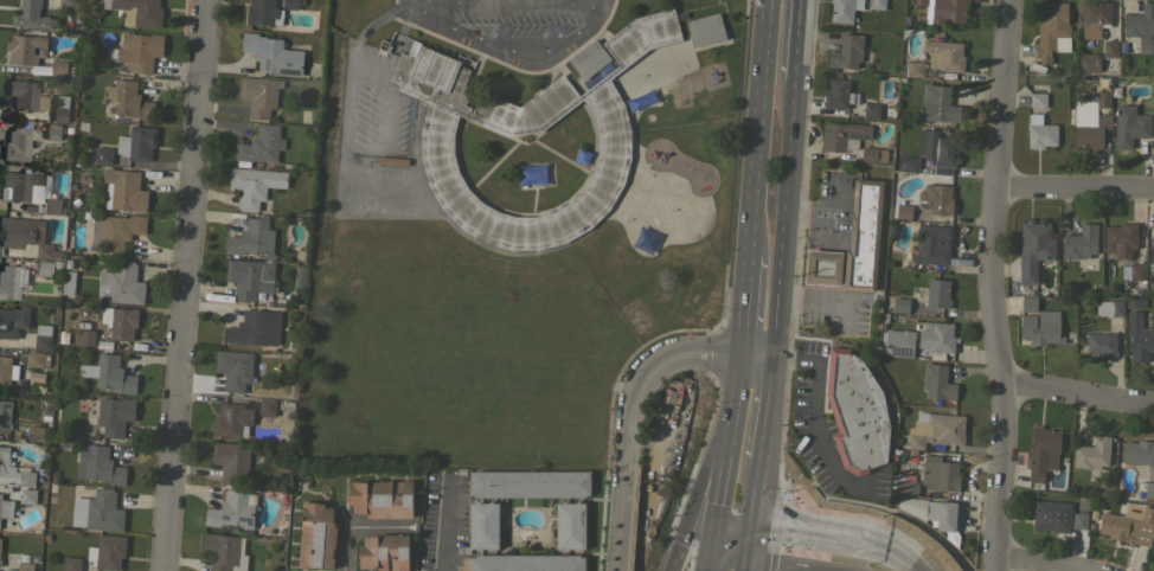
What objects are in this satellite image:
road: (500, 1)
building: (66, 2)
building: (919, 2)
building: (290, 4)
building: (877, 4)
road: (402, 6)
building: (845, 9)
building: (948, 11)
building: (137, 12)
building: (261, 12)
building: (31, 15)
building: (1095, 18)
road: (372, 24)
building: (1140, 24)
building: (1050, 28)
building: (705, 30)
road: (797, 39)
building: (24, 49)
building: (1110, 49)
road: (507, 50)
building: (140, 51)
building: (846, 52)
building: (273, 54)
building: (589, 58)
building: (937, 59)
rooftop solar panel: (267, 62)
building: (1088, 62)
building: (62, 69)
rooftop solar panel: (288, 71)
building: (839, 94)
building: (259, 95)
building: (25, 96)
building: (128, 100)
building: (1038, 100)
building: (937, 103)
building: (59, 108)
building: (872, 110)
building: (1091, 121)
building: (514, 122)
road: (757, 127)
building: (1130, 127)
building: (52, 130)
building: (1040, 133)
building: (844, 136)
building: (136, 143)
building: (15, 145)
building: (259, 145)
building: (941, 149)
building: (873, 154)
building: (103, 155)
building: (392, 161)
building: (910, 163)
road: (341, 167)
building: (254, 185)
building: (21, 186)
road: (1072, 187)
building: (123, 191)
building: (935, 199)
building: (53, 205)
building: (902, 212)
road: (787, 223)
building: (116, 231)
building: (25, 235)
building: (863, 236)
building: (252, 238)
building: (1120, 239)
building: (1081, 242)
building: (931, 244)
building: (1152, 248)
building: (1033, 249)
building: (45, 268)
building: (823, 268)
building: (1135, 271)
building: (246, 278)
building: (11, 280)
building: (68, 282)
building: (120, 283)
road: (182, 285)
road: (988, 285)
building: (693, 289)
building: (937, 294)
building: (1135, 303)
building: (900, 304)
building: (1028, 304)
road: (744, 306)
building: (1109, 308)
building: (13, 321)
building: (120, 321)
building: (254, 328)
building: (1045, 328)
building: (936, 336)
building: (1139, 336)
building: (41, 338)
building: (85, 338)
building: (897, 342)
building: (1101, 344)
rooftop solar panel: (897, 352)
building: (37, 359)
building: (233, 368)
building: (7, 371)
building: (109, 373)
rooftop solar panel: (12, 374)
building: (937, 383)
road: (1076, 394)
road: (633, 400)
building: (267, 406)
rooftop solar panel: (227, 410)
building: (855, 411)
building: (5, 413)
building: (115, 415)
road: (770, 417)
building: (232, 419)
road: (815, 428)
building: (936, 430)
building: (36, 432)
building: (1043, 451)
building: (1139, 451)
road: (724, 453)
building: (1092, 454)
building: (231, 461)
building: (98, 464)
building: (14, 469)
building: (931, 477)
building: (530, 483)
road: (697, 488)
building: (1149, 489)
building: (27, 495)
building: (382, 498)
road: (759, 501)
building: (4, 507)
building: (232, 509)
building: (97, 511)
building: (930, 511)
rooftop solar panel: (224, 515)
building: (1047, 517)
rooftop solar panel: (248, 519)
road: (441, 520)
building: (1079, 520)
building: (483, 525)
building: (570, 525)
building: (1129, 526)
road: (382, 527)
traffic signals: (755, 534)
building: (316, 535)
road: (815, 535)
road: (347, 540)
road: (732, 540)
building: (0, 541)
traffic signals: (711, 547)
building: (109, 552)
building: (224, 552)
building: (384, 552)
road: (751, 552)
road: (709, 559)
road: (892, 559)
building: (0, 562)
road: (1033, 562)
building: (522, 563)
building: (71, 564)
building: (25, 566)

